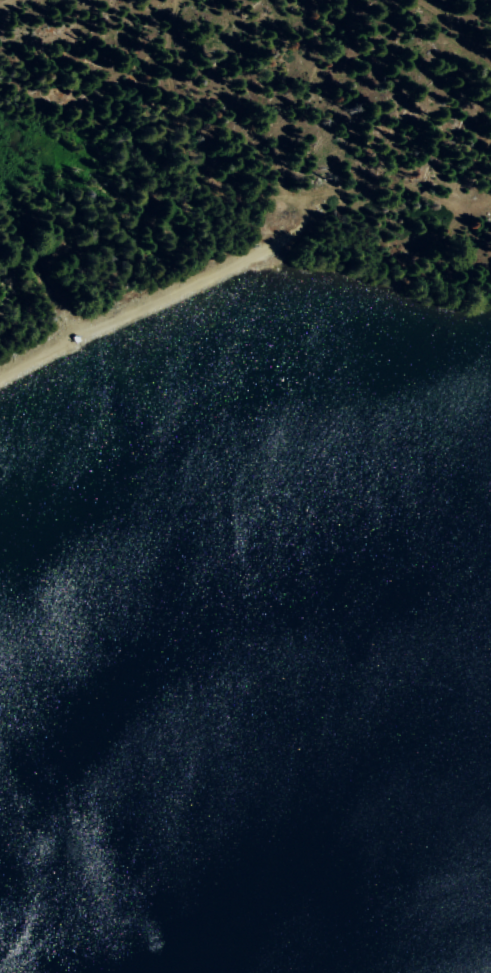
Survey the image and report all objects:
road: (6, 3)
road: (453, 29)
road: (186, 142)
road: (249, 254)

